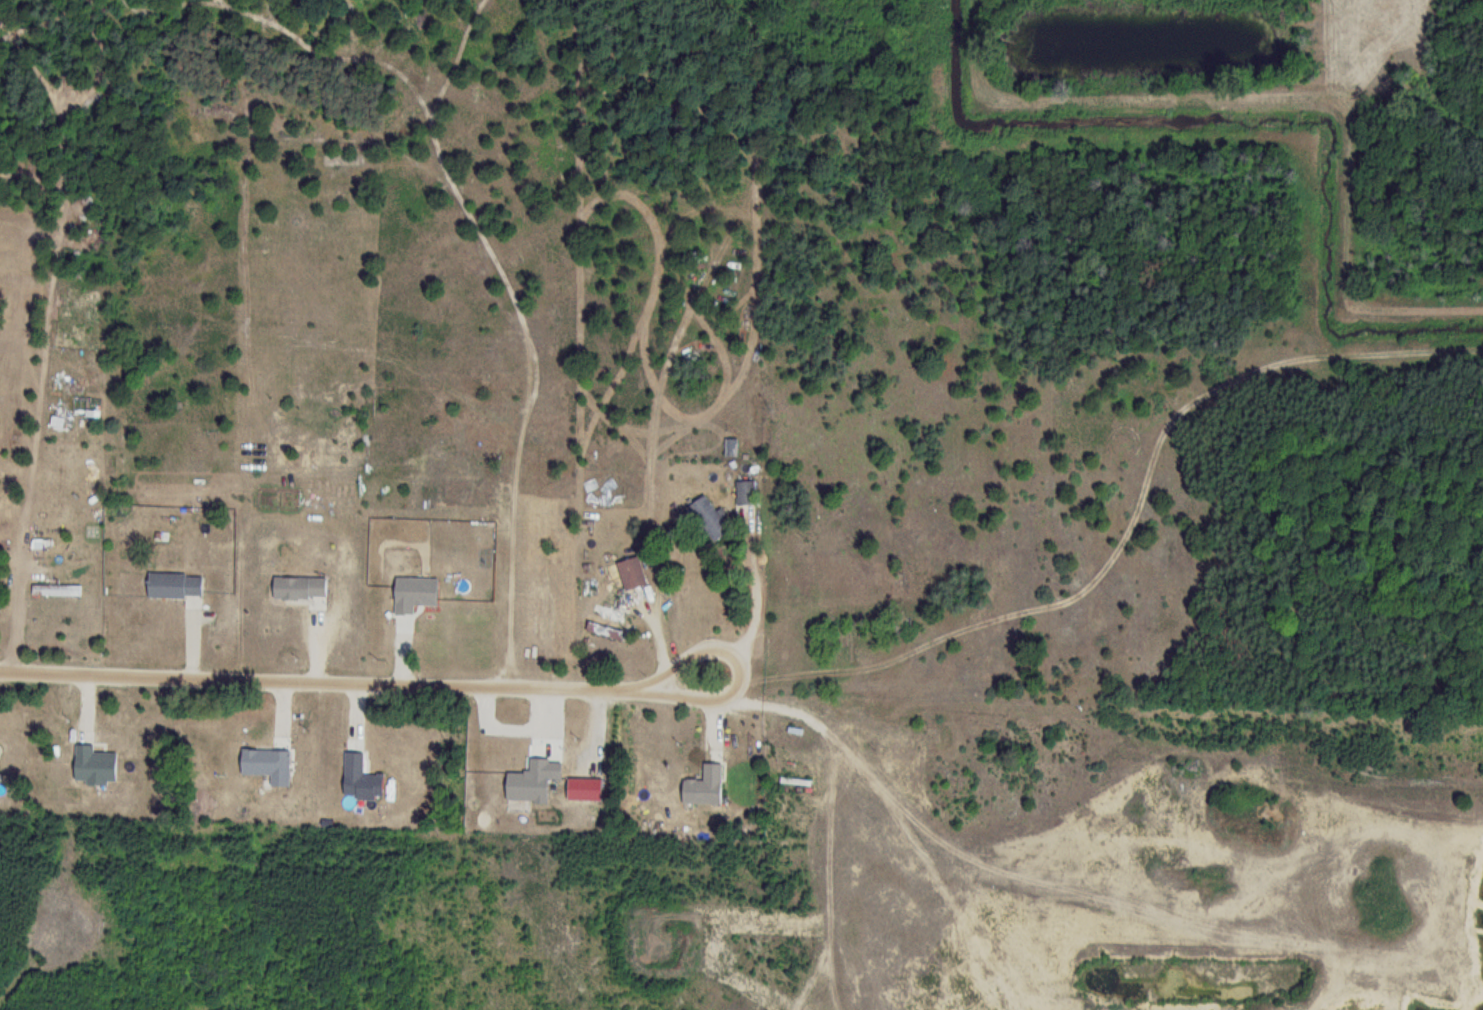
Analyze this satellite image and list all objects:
building: (731, 447)
building: (746, 492)
building: (708, 516)
building: (630, 572)
building: (172, 584)
building: (58, 589)
building: (457, 604)
building: (606, 616)
building: (531, 646)
road: (379, 679)
road: (1347, 949)

